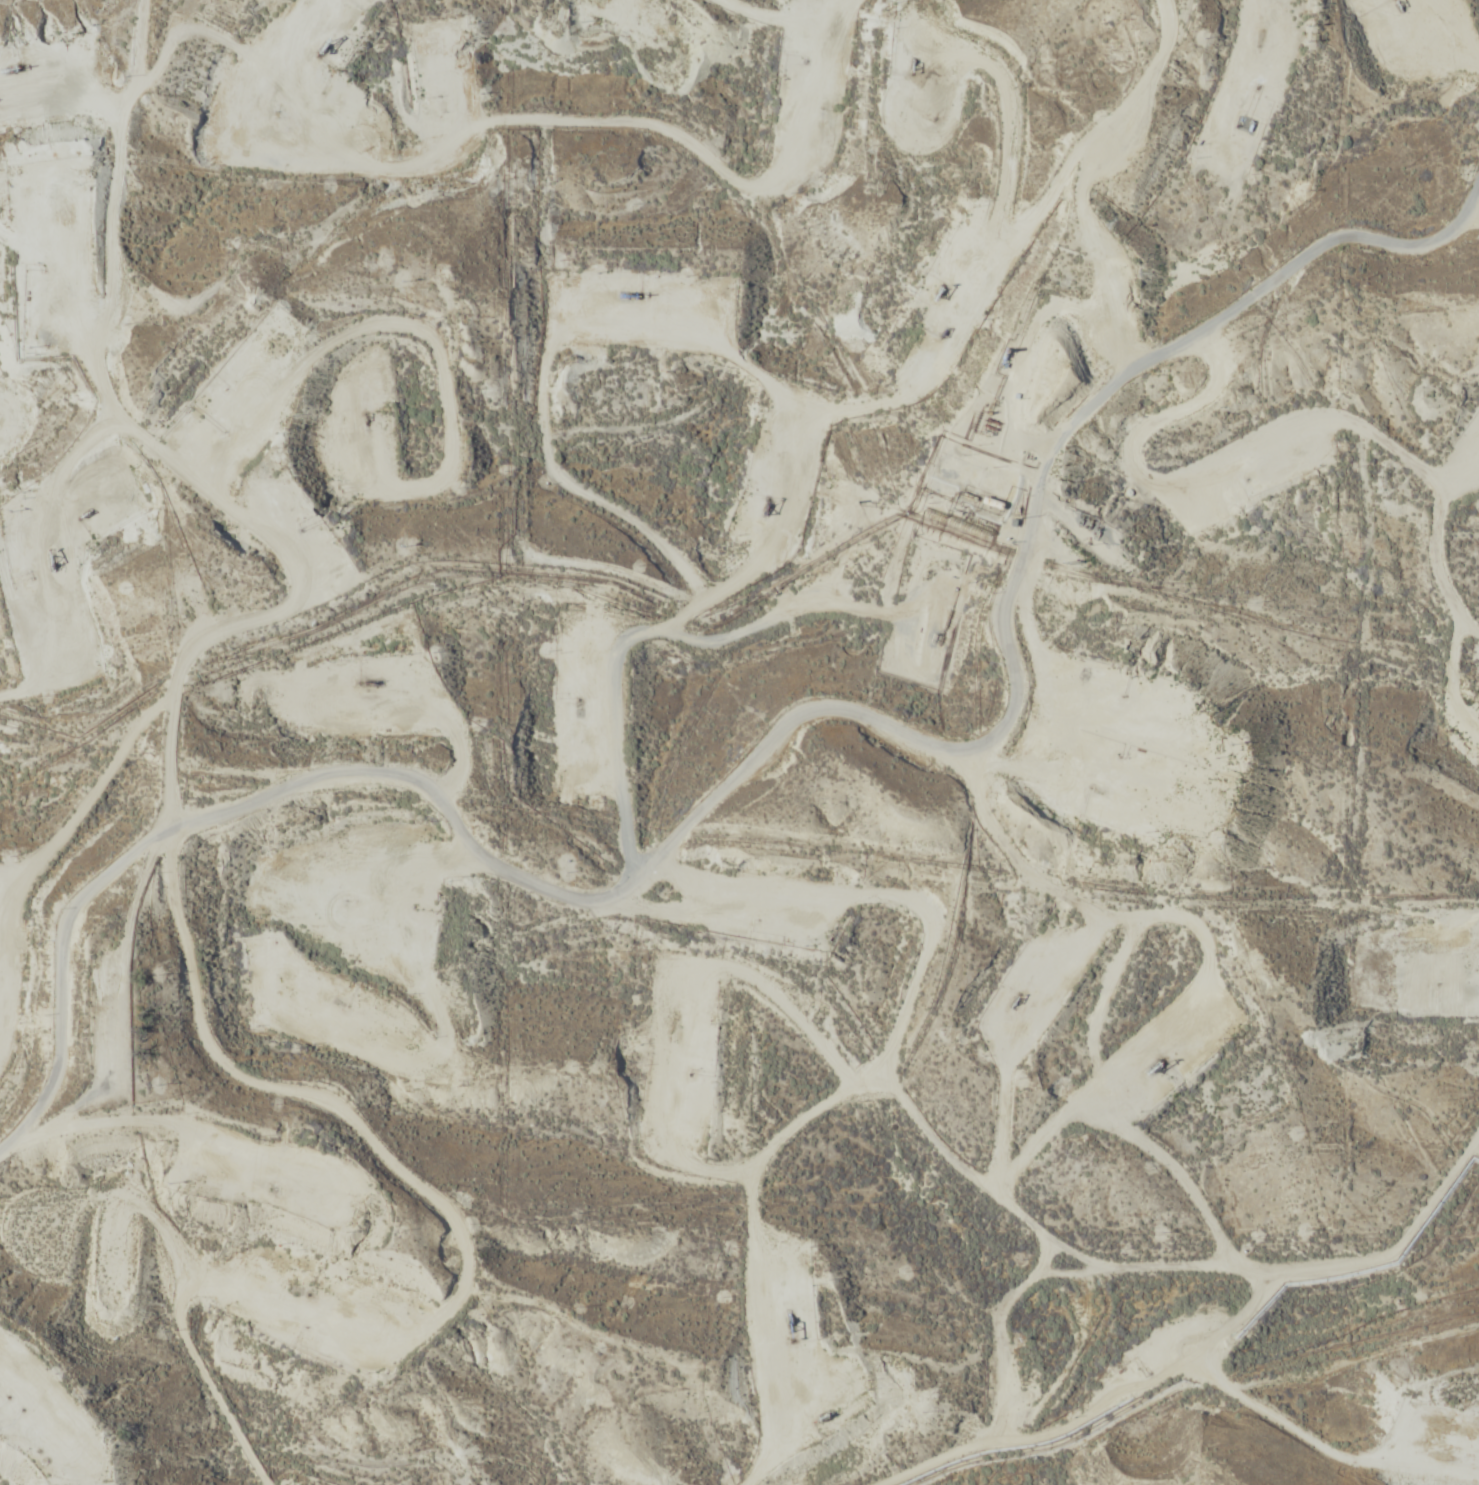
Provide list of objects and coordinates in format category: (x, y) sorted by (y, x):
road: (1455, 55)
road: (748, 76)
road: (1119, 187)
road: (664, 396)
building: (1001, 489)
road: (1064, 567)
road: (406, 767)
road: (171, 824)
road: (62, 1027)
road: (746, 1243)
road: (1203, 1273)
road: (512, 1294)
road: (1294, 1437)

